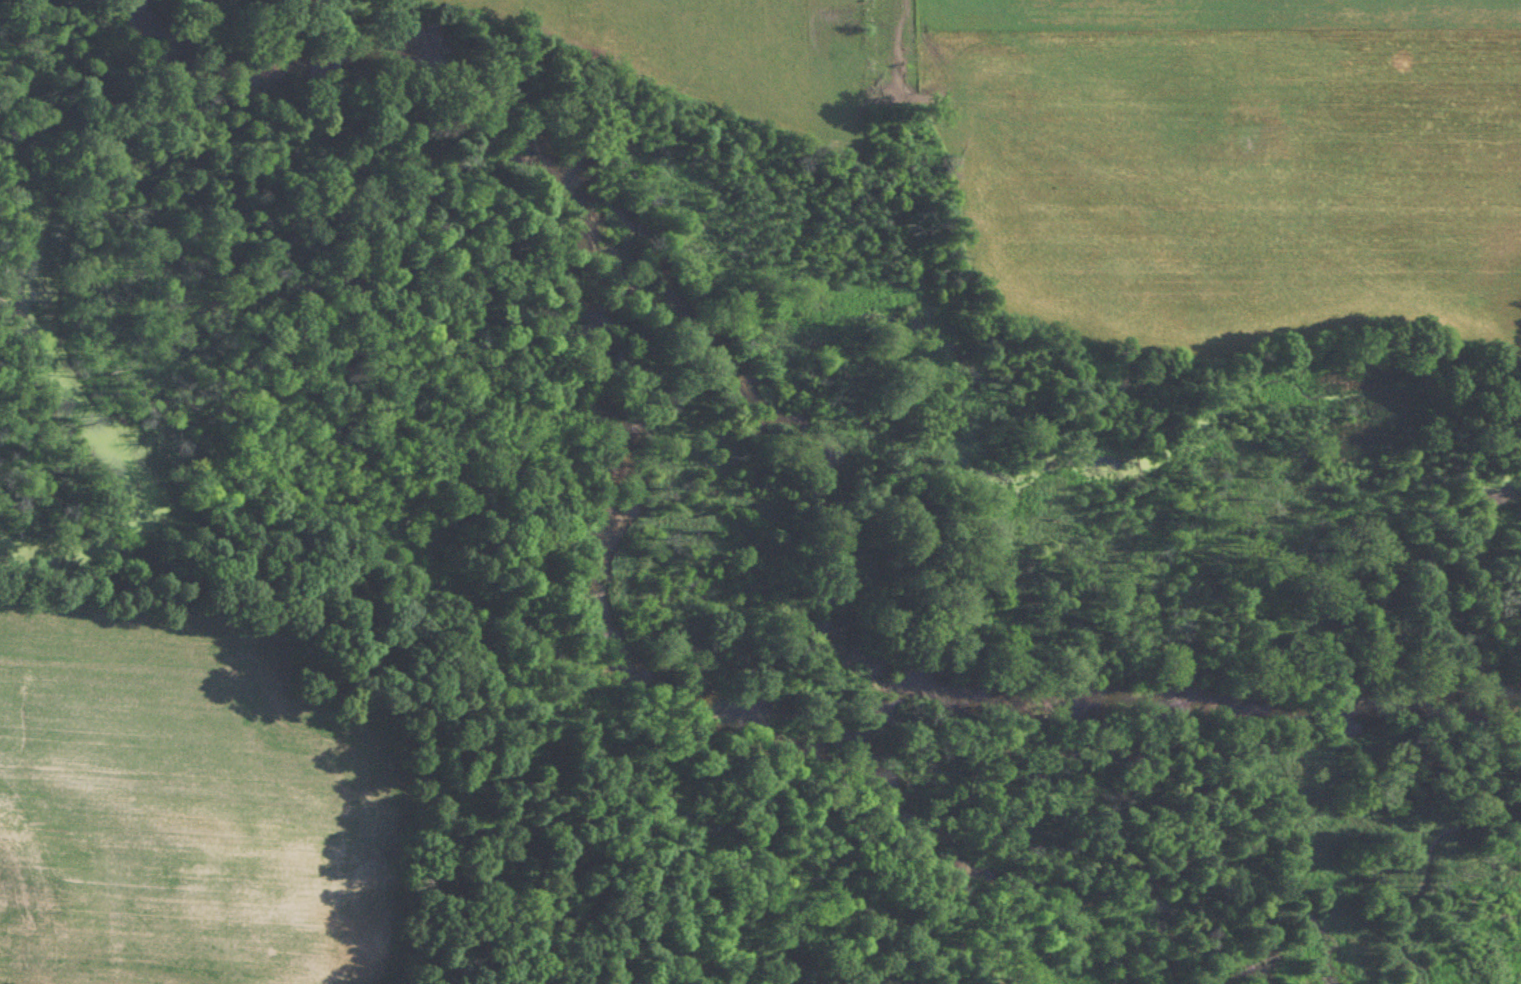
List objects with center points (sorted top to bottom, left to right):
river: (801, 457)

